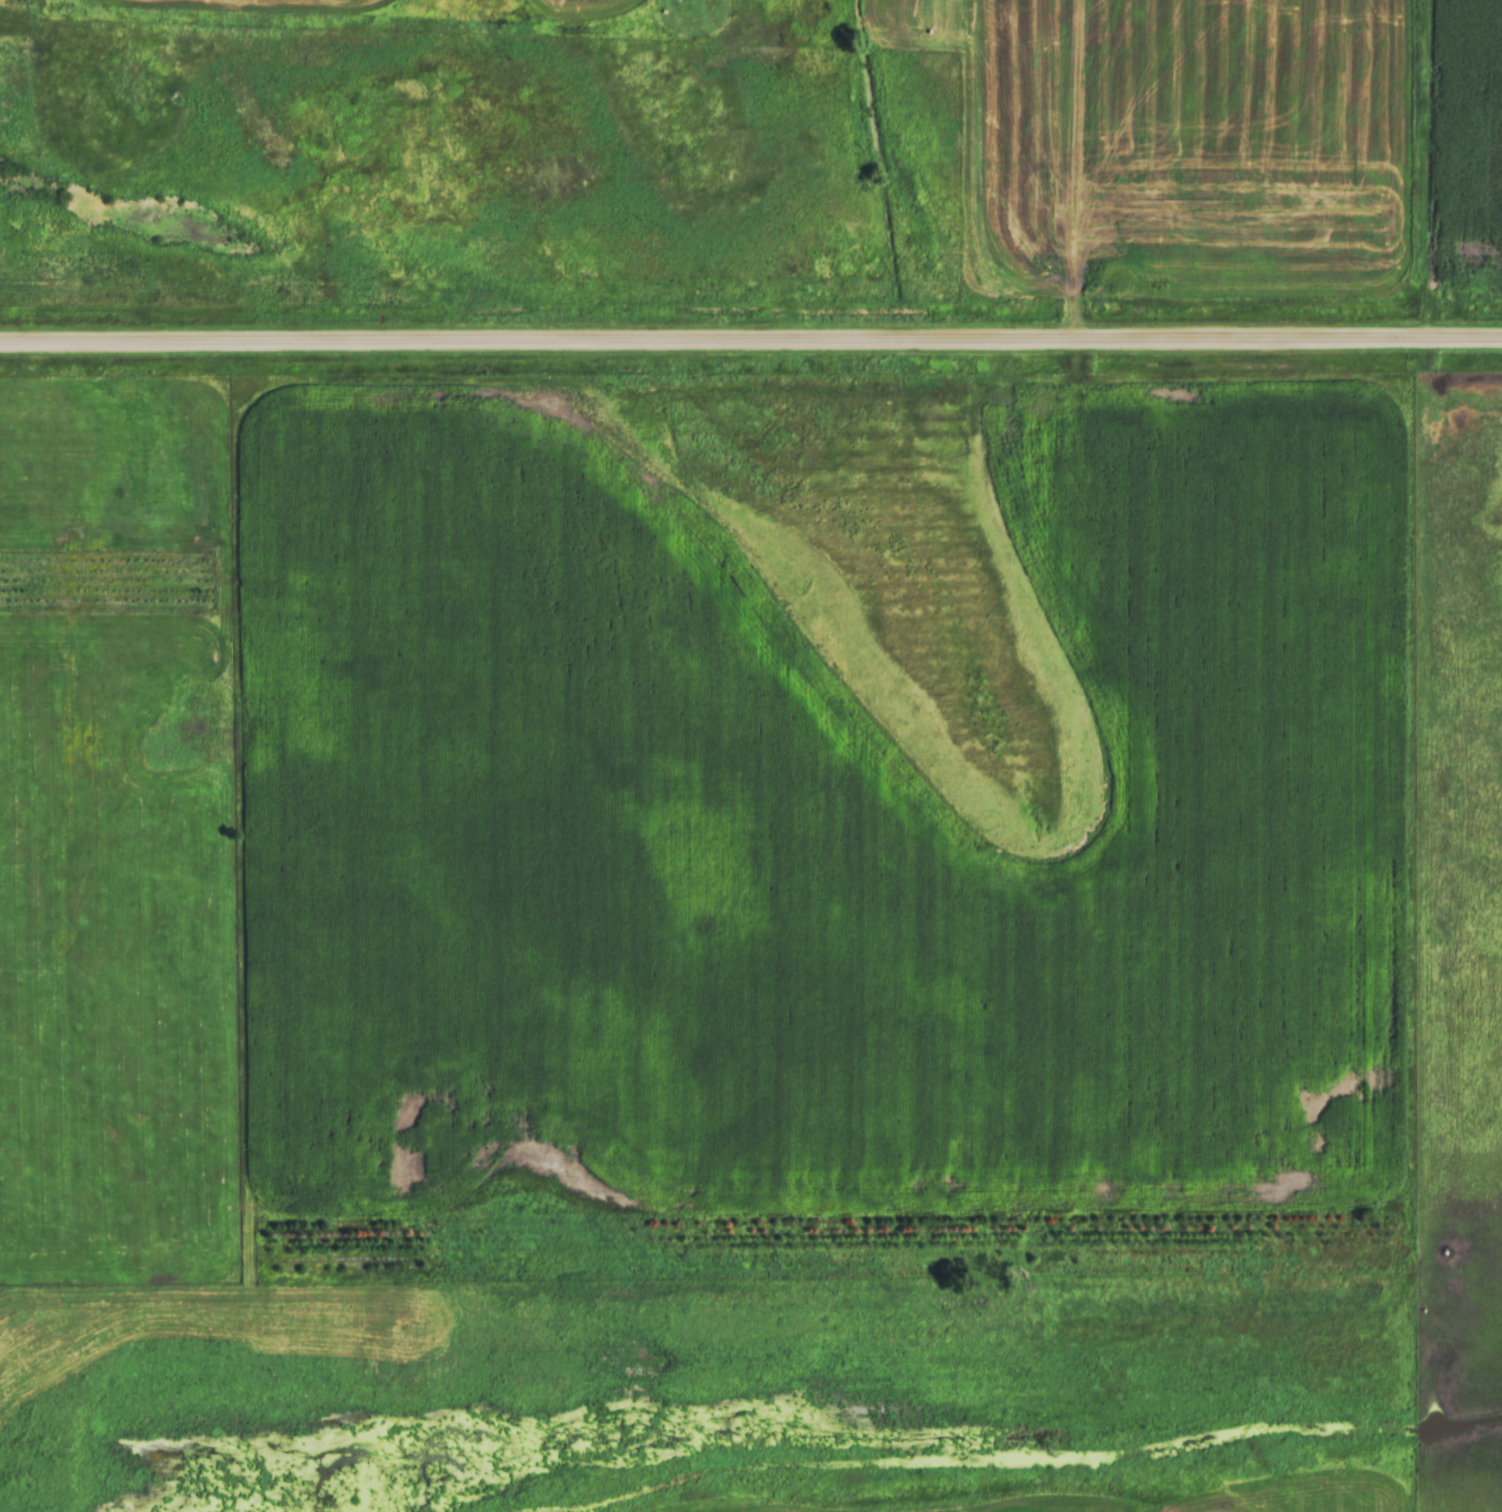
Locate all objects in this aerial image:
road: (750, 341)

